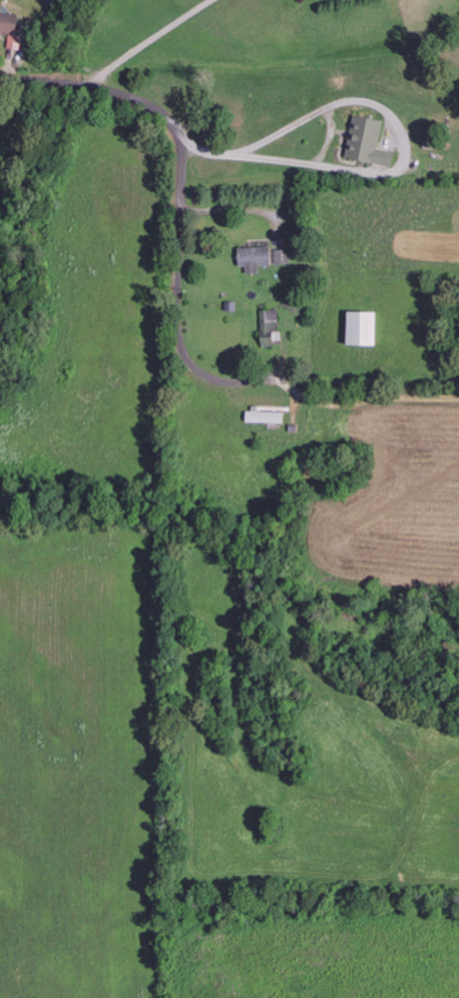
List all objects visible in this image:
building: (11, 28)
building: (369, 142)
road: (179, 214)
building: (257, 258)
building: (273, 328)
building: (364, 329)
building: (265, 417)

